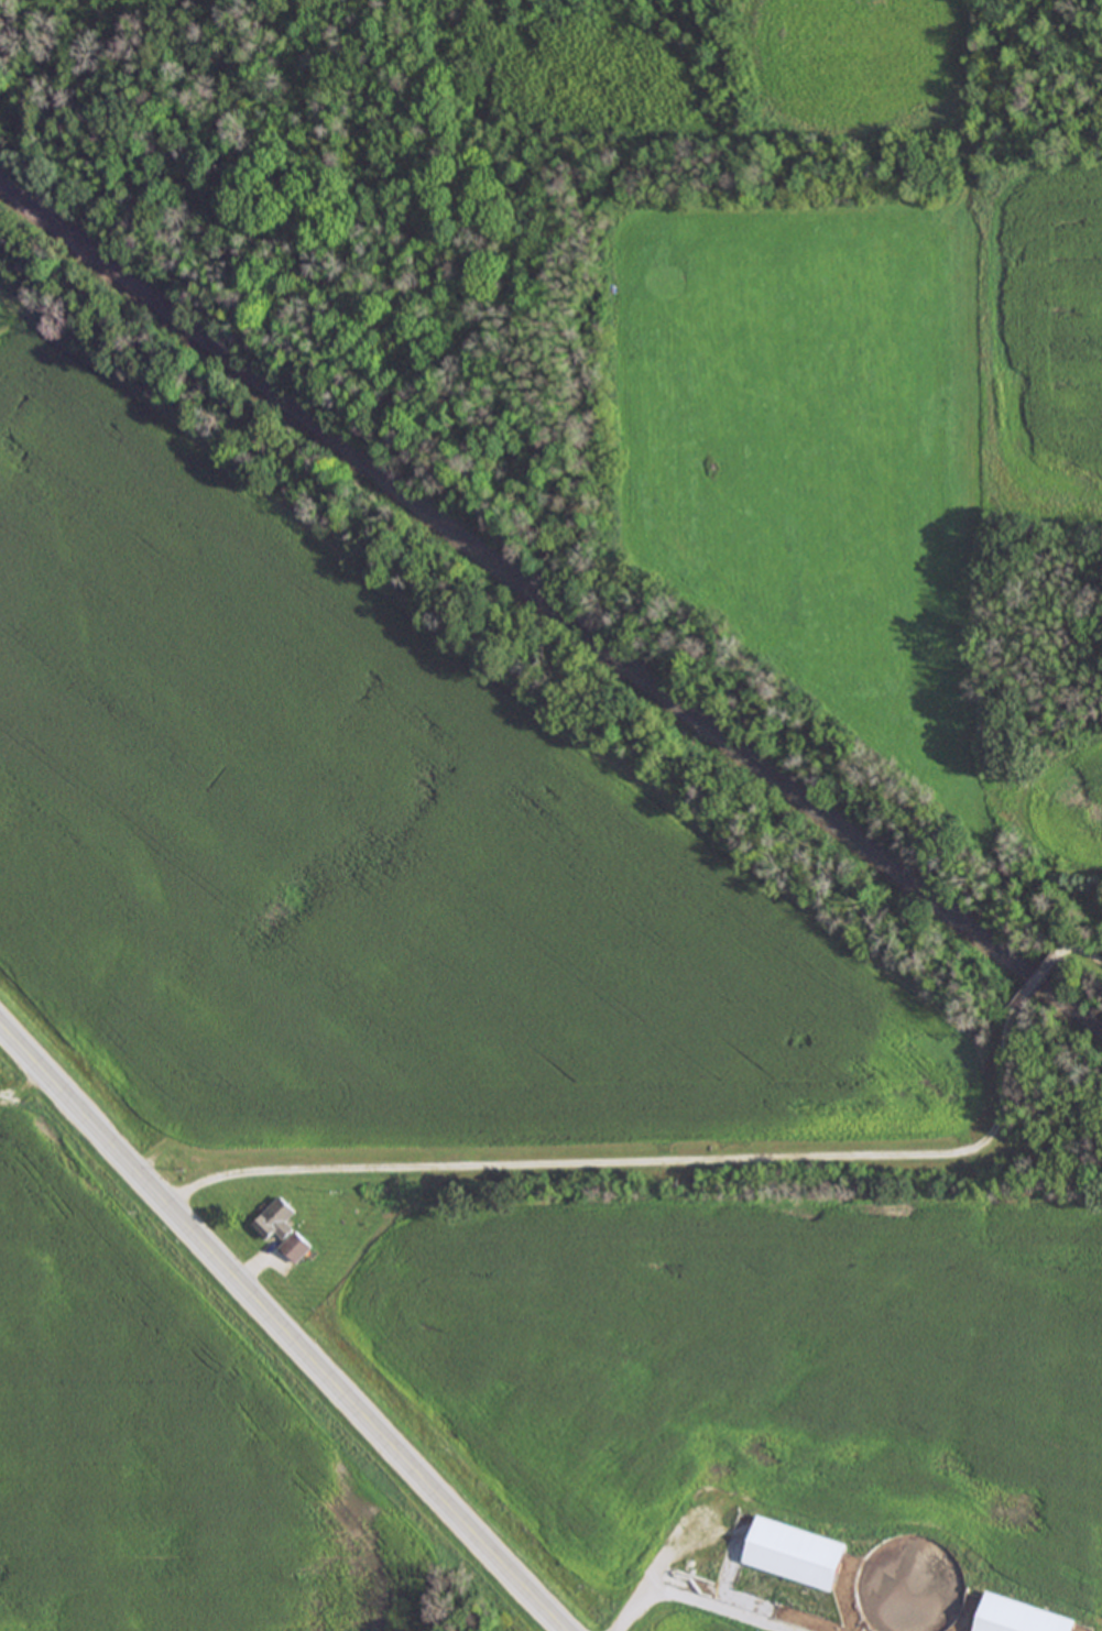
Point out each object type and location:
railway: (550, 607)
road: (1068, 954)
road: (1044, 983)
road: (653, 1163)
building: (286, 1232)
road: (282, 1326)
building: (800, 1556)
road: (694, 1603)
building: (1025, 1618)

